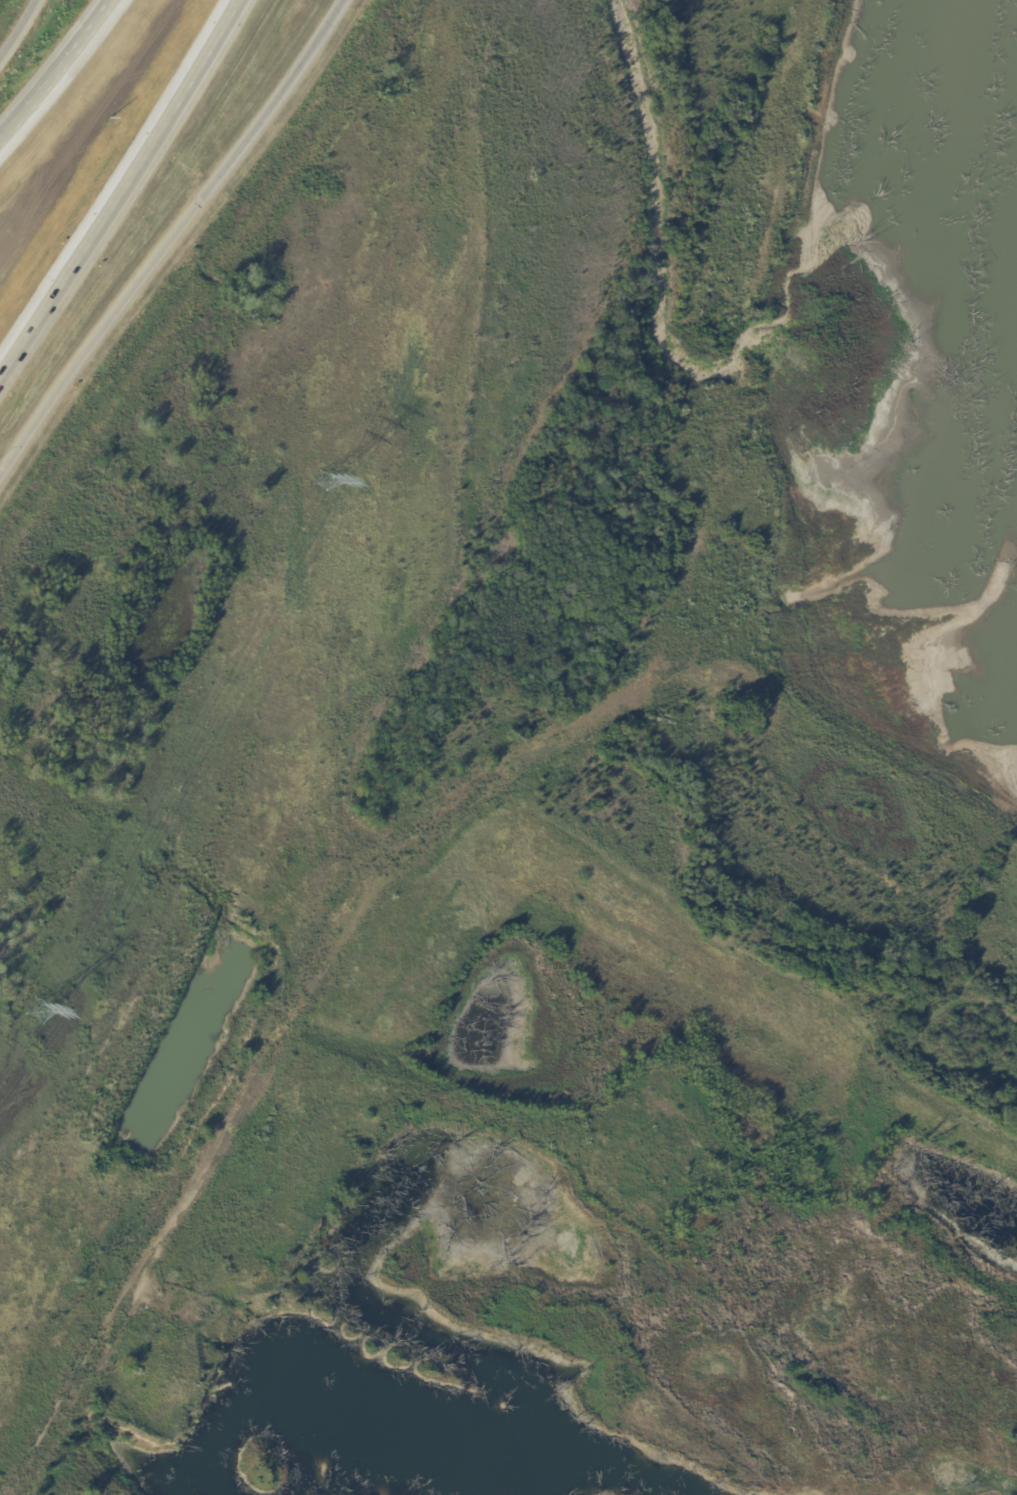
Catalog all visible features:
road: (18, 29)
road: (54, 66)
road: (123, 189)
road: (173, 236)
power tower: (324, 477)
power tower: (41, 1013)

